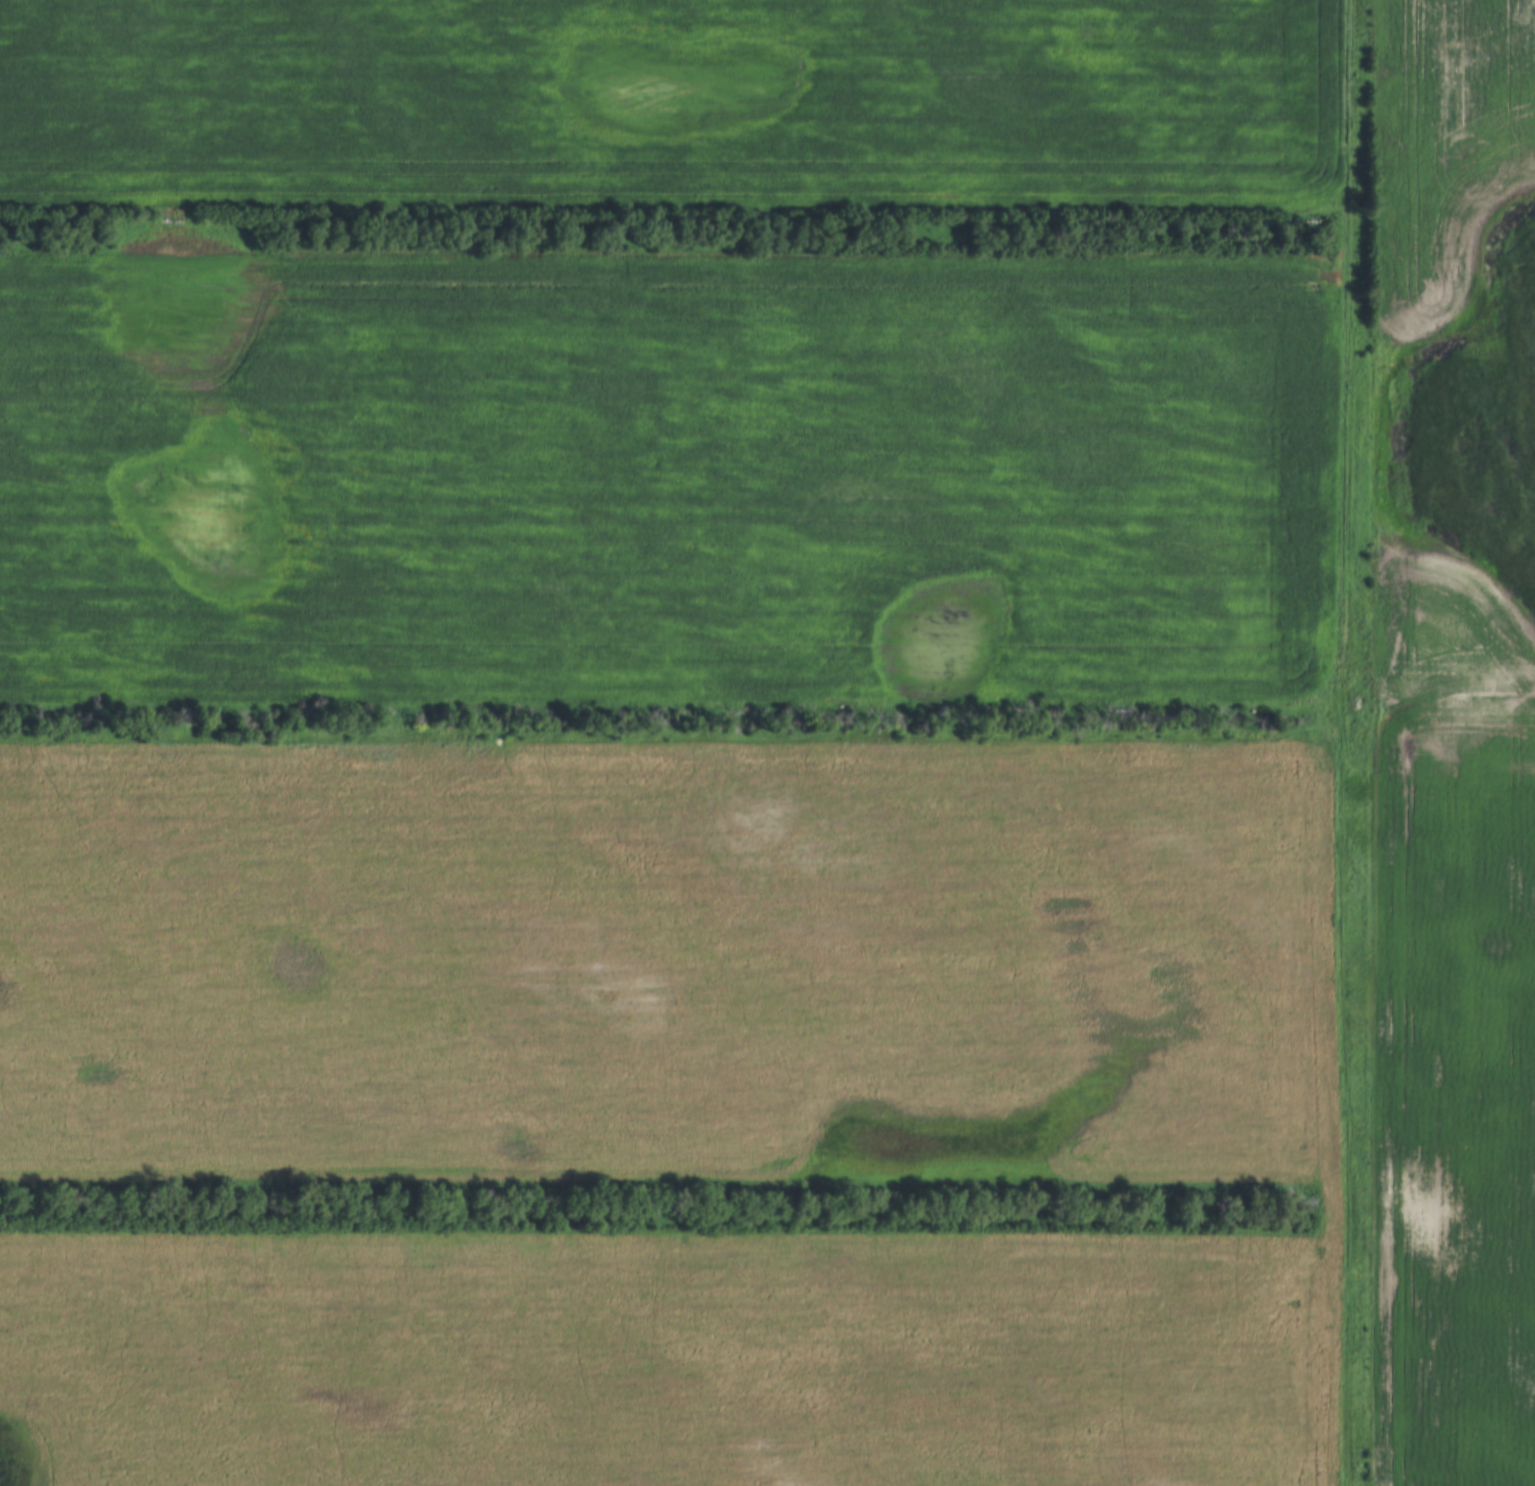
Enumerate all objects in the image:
crop: (1439, 157)
road: (1354, 743)
crop: (1445, 1023)

